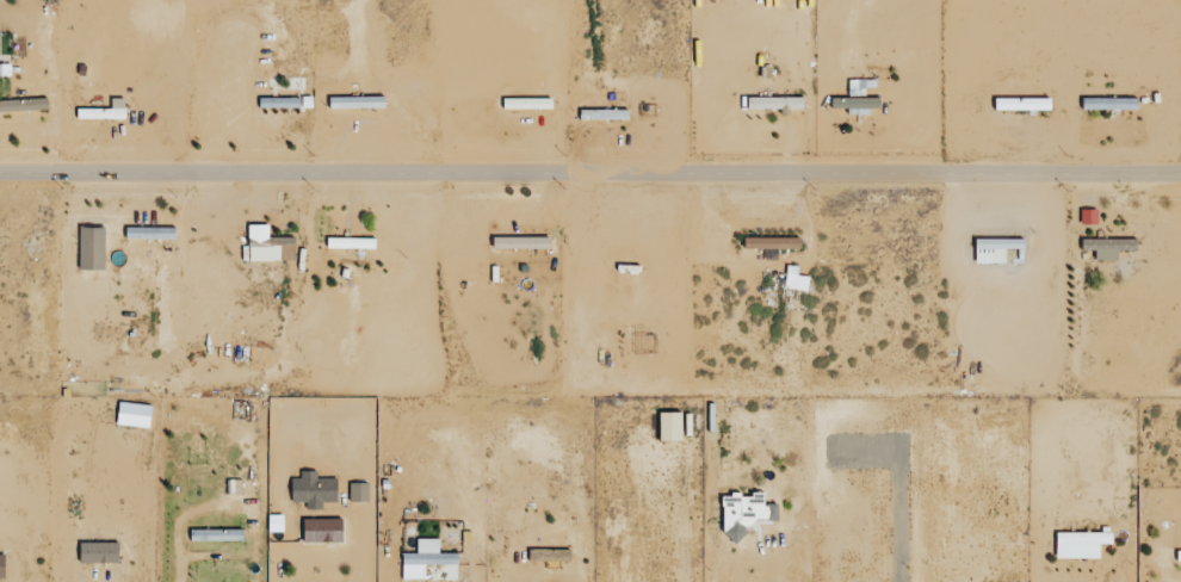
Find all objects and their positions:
road: (590, 175)
road: (750, 552)

